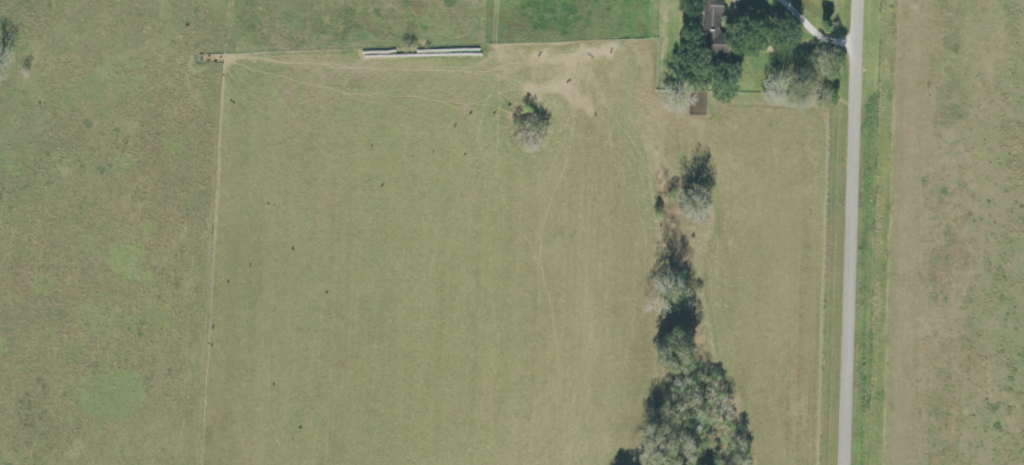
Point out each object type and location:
building: (714, 13)
road: (819, 30)
road: (855, 232)

